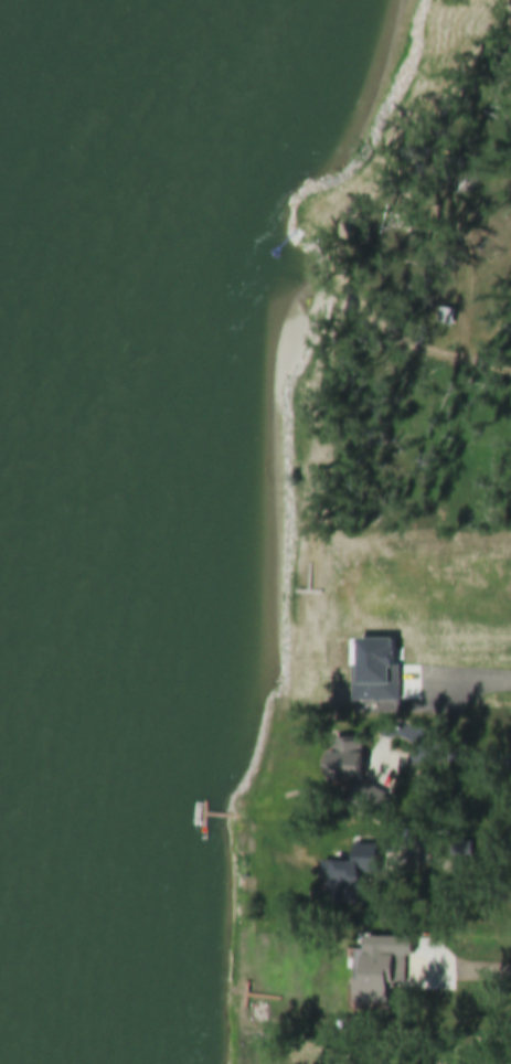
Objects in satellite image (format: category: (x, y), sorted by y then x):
river: (41, 355)
road: (409, 754)
building: (351, 760)
building: (355, 875)
road: (473, 969)
building: (384, 978)

